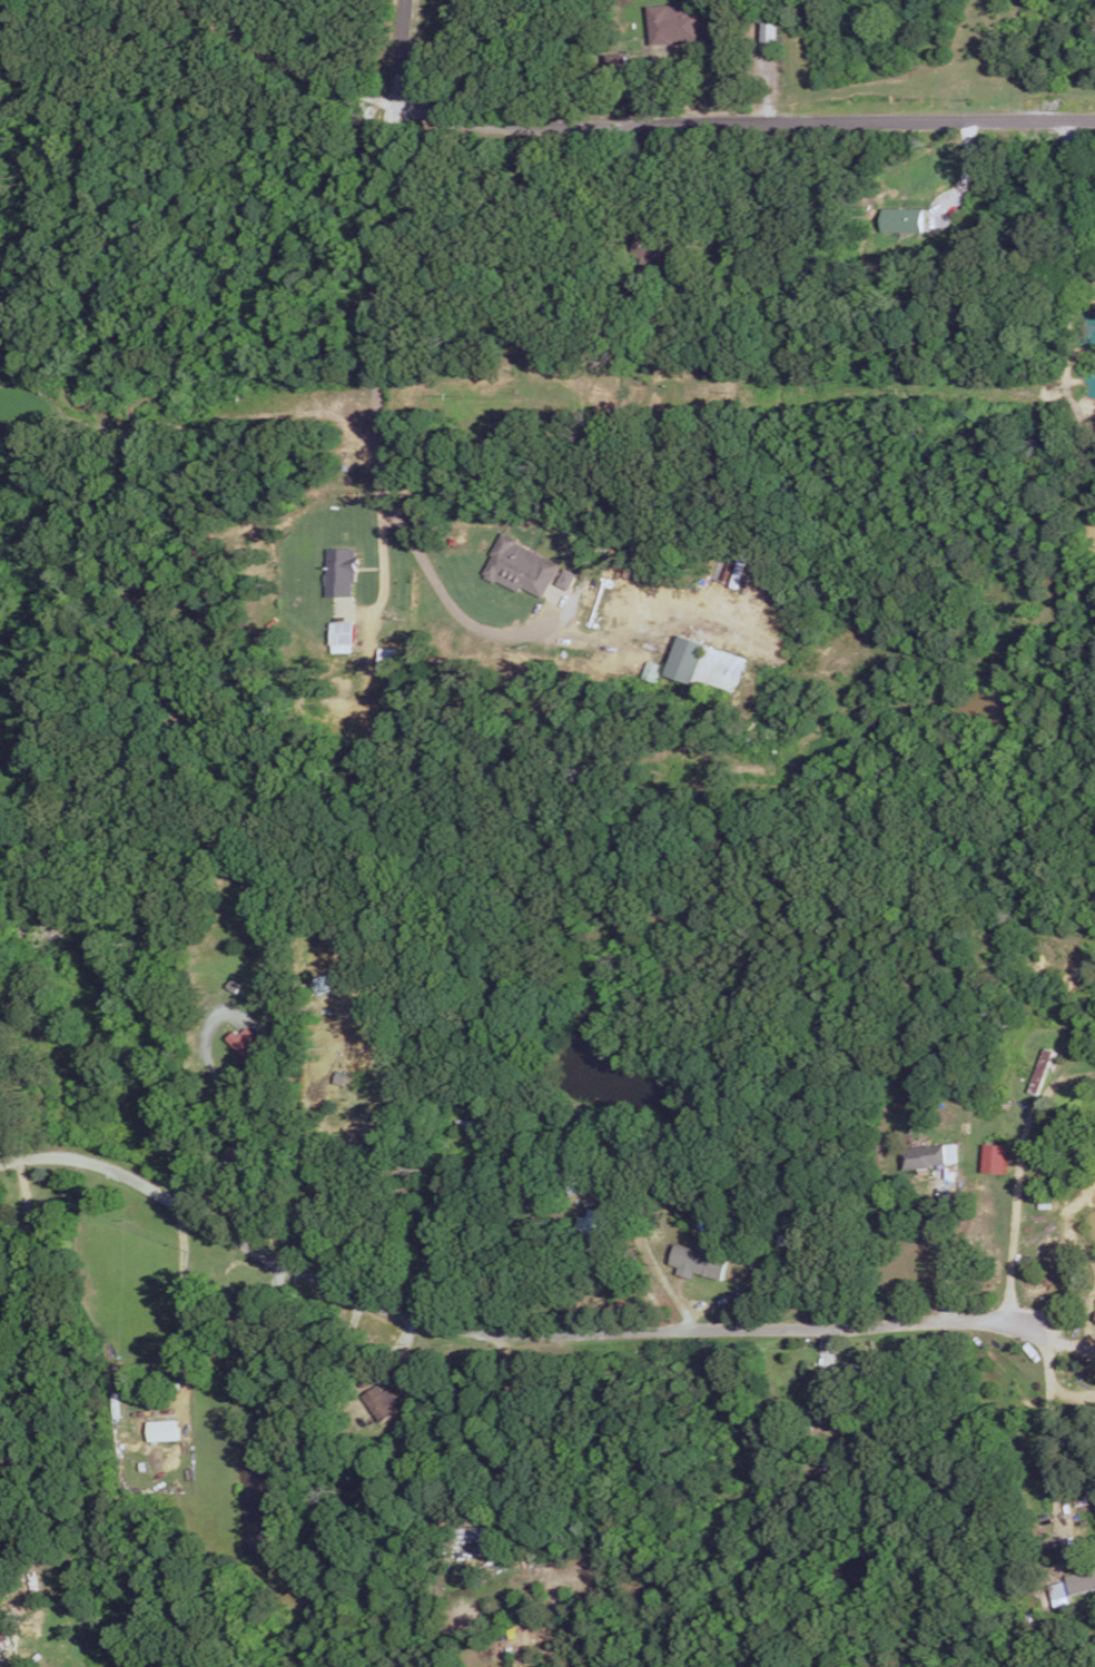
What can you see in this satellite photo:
building: (673, 22)
building: (770, 31)
road: (716, 49)
road: (300, 66)
road: (701, 121)
road: (963, 170)
building: (901, 218)
building: (655, 248)
road: (375, 453)
road: (383, 555)
building: (520, 565)
building: (339, 571)
building: (564, 578)
building: (343, 635)
building: (387, 658)
building: (704, 664)
building: (652, 670)
building: (249, 1045)
road: (228, 1104)
building: (925, 1154)
building: (995, 1157)
road: (1014, 1213)
building: (593, 1222)
road: (938, 1255)
building: (698, 1261)
road: (182, 1279)
building: (1094, 1311)
road: (490, 1333)
building: (382, 1401)
road: (1050, 1422)
building: (164, 1429)
building: (1075, 1582)
building: (3, 1640)
building: (0, 1659)

